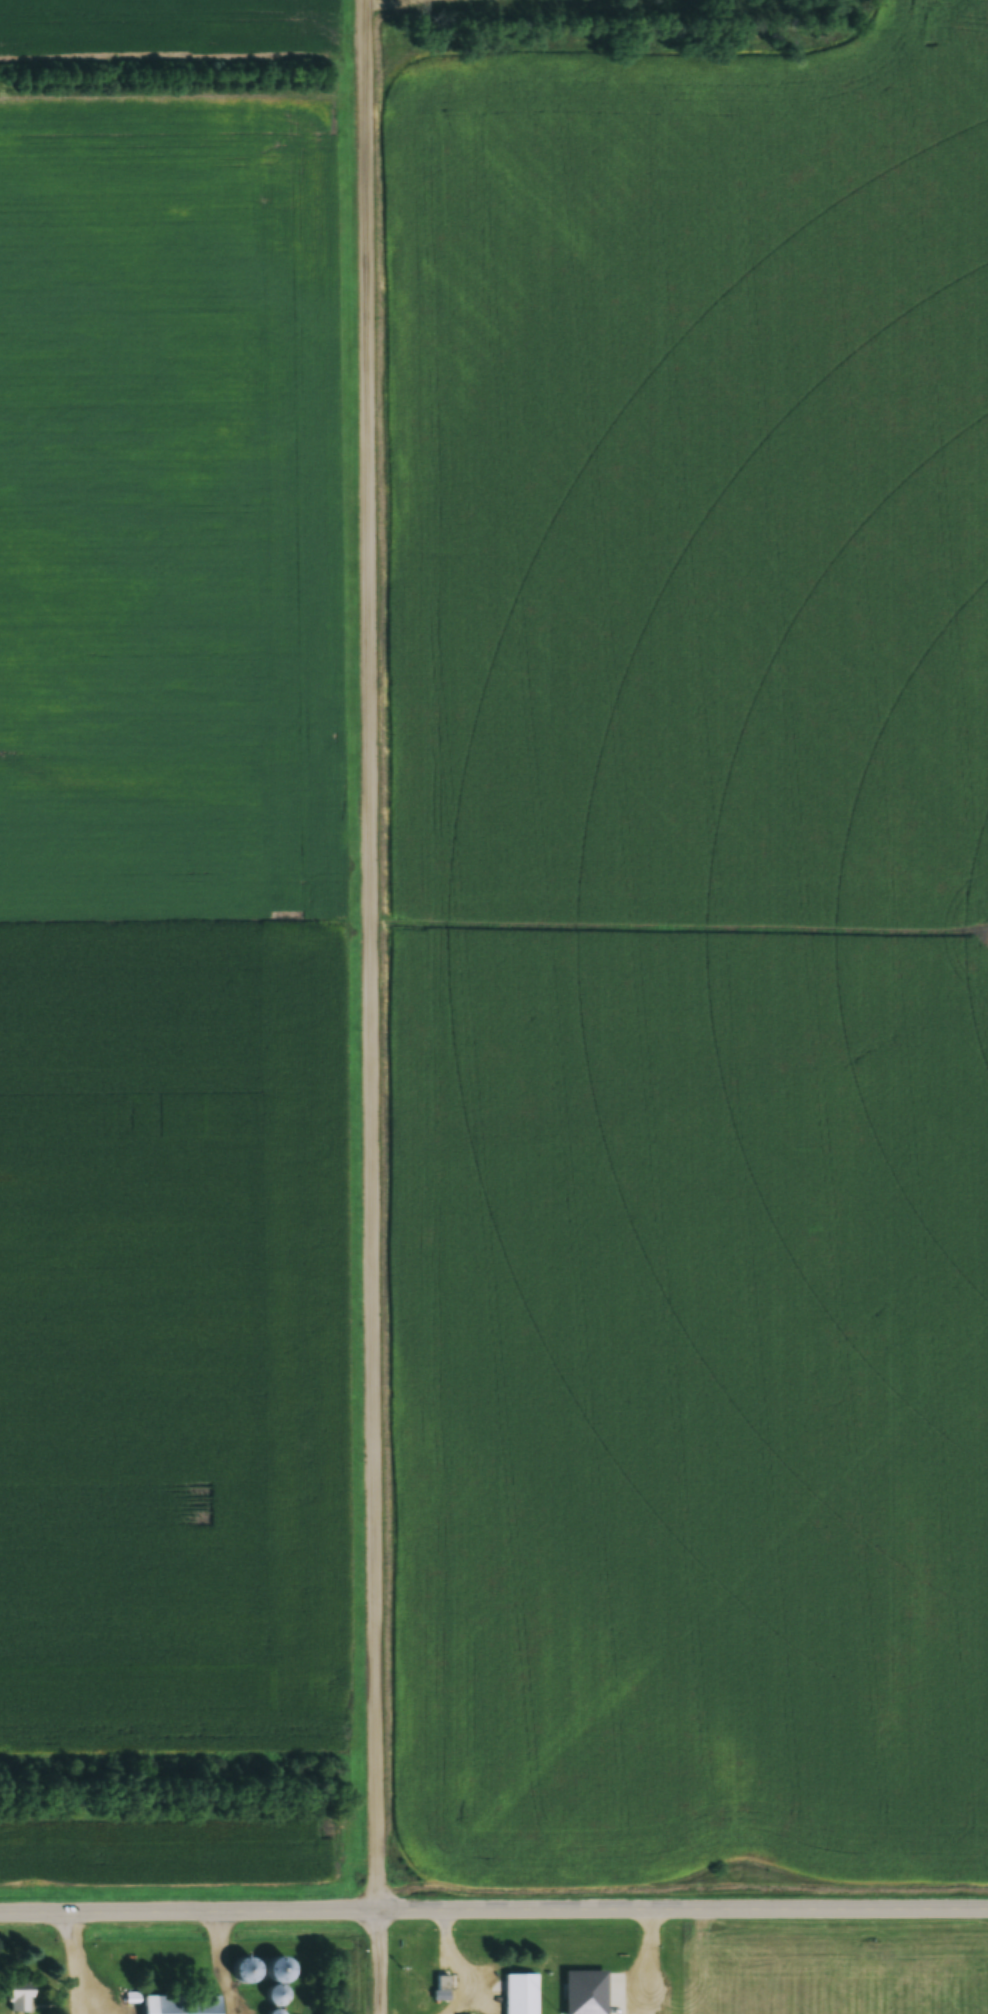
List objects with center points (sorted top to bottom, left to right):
road: (374, 1007)
road: (493, 1910)
building: (246, 1968)
building: (278, 1980)
building: (441, 1988)
building: (586, 1991)
building: (520, 1993)
building: (18, 1998)
building: (181, 2004)
building: (275, 2012)

